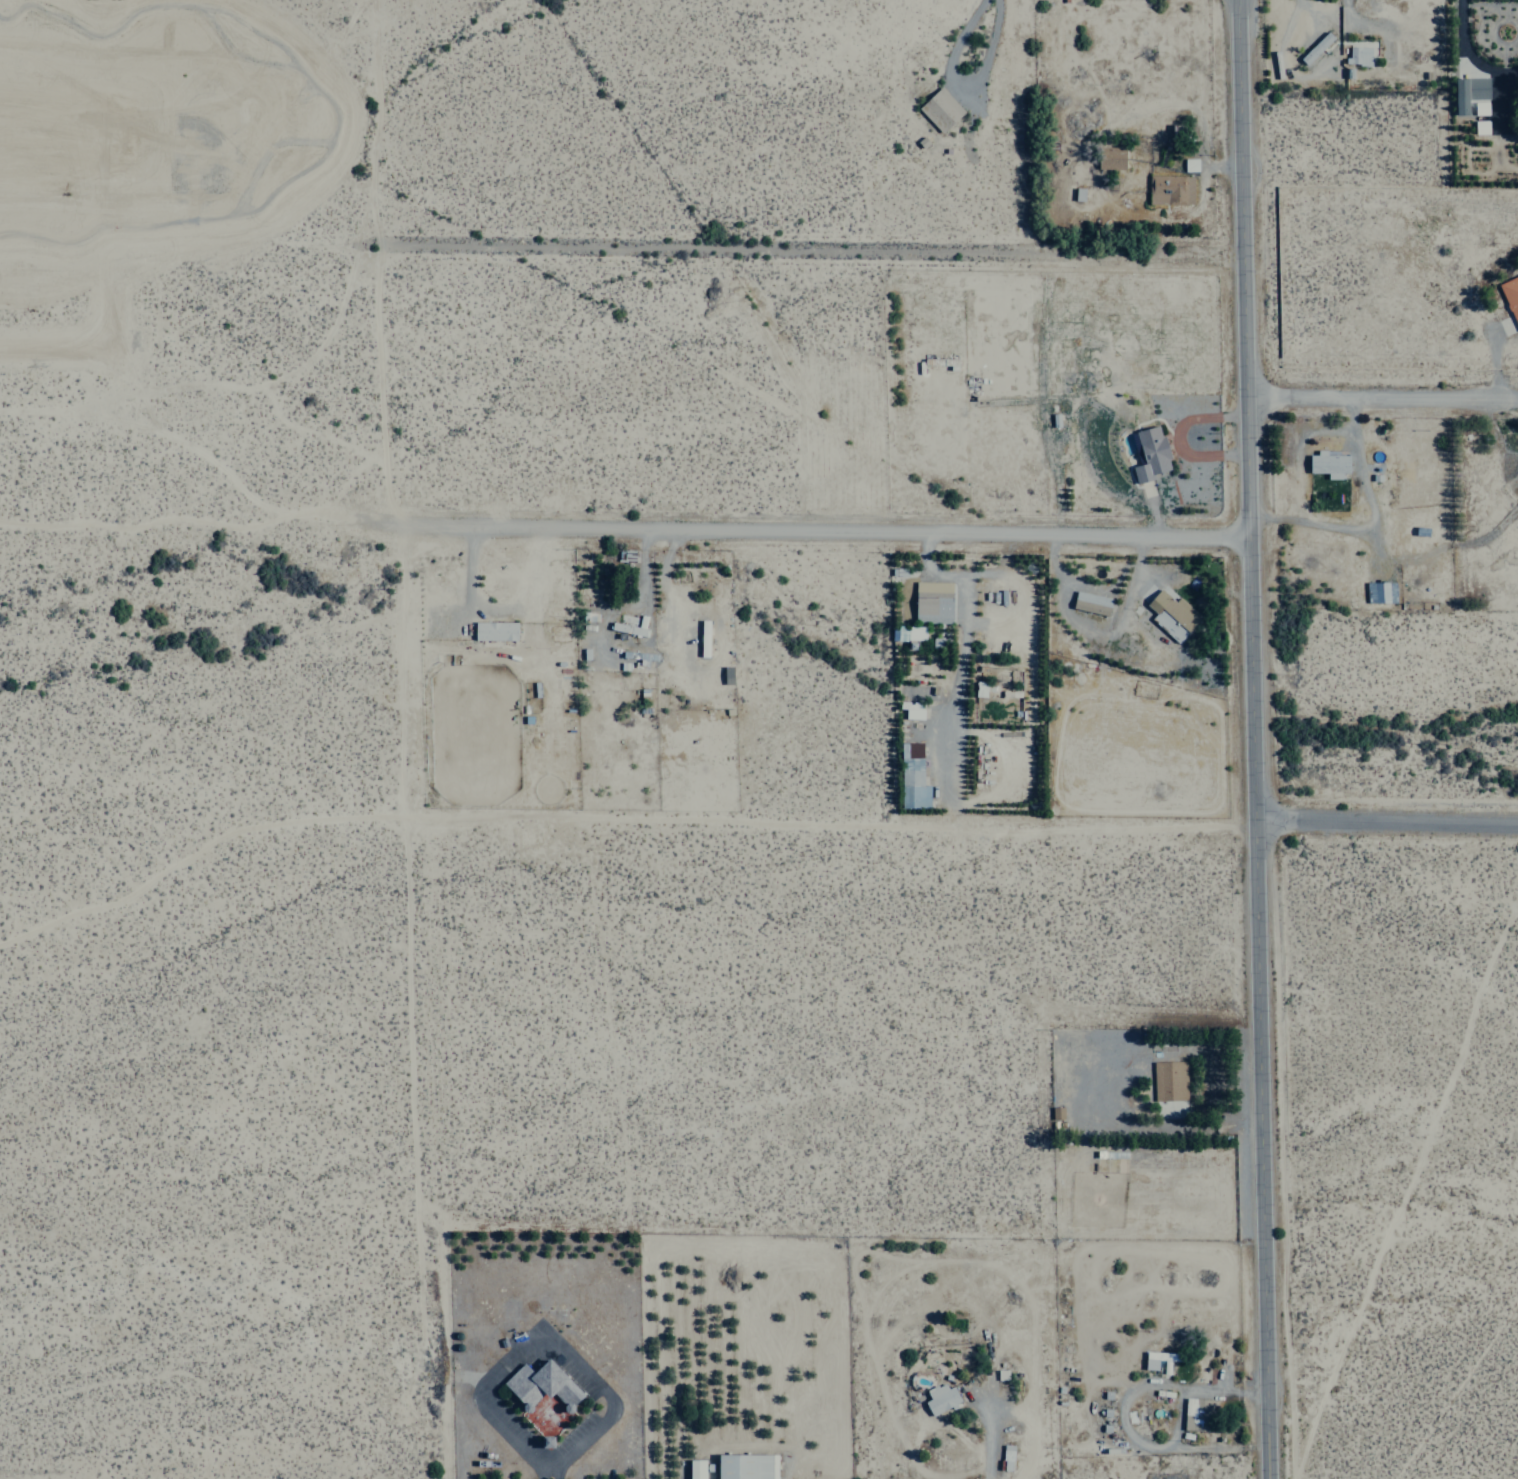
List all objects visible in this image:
building: (1315, 48)
building: (1358, 55)
building: (1469, 92)
building: (1480, 108)
building: (940, 110)
building: (1481, 127)
building: (1111, 158)
building: (1190, 164)
building: (1170, 189)
road: (813, 252)
road: (1382, 390)
road: (385, 410)
building: (1151, 454)
building: (1328, 464)
road: (818, 529)
building: (1380, 592)
building: (933, 602)
building: (1091, 603)
building: (1172, 615)
building: (495, 631)
building: (915, 633)
building: (980, 689)
building: (913, 711)
road: (1252, 739)
park: (194, 750)
building: (912, 777)
road: (1386, 824)
building: (1169, 1080)
road: (418, 1150)
building: (1159, 1358)
building: (543, 1397)
building: (940, 1397)
building: (1195, 1414)
building: (1007, 1457)
building: (746, 1466)
road: (551, 1467)
building: (695, 1469)

